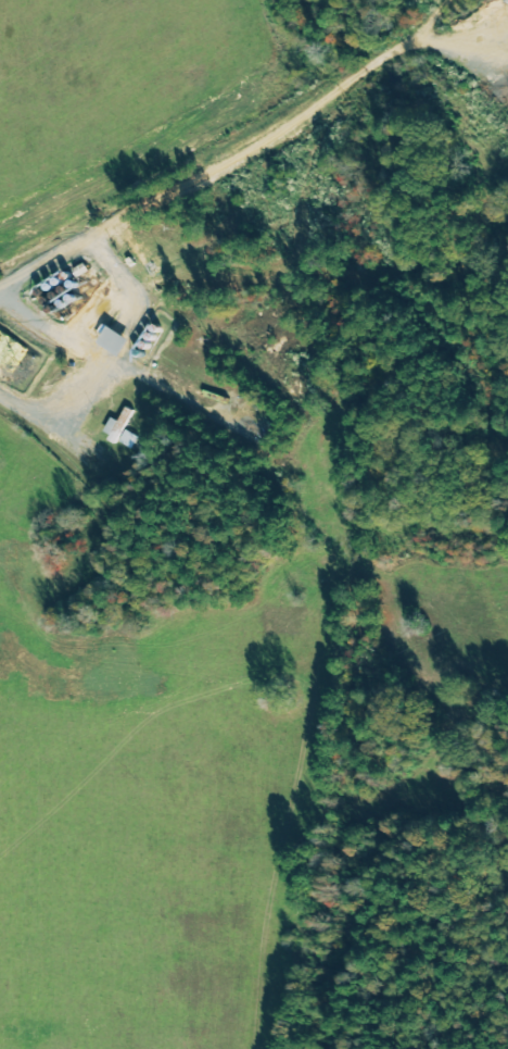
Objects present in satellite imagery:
building: (123, 340)
building: (12, 351)
road: (102, 362)

